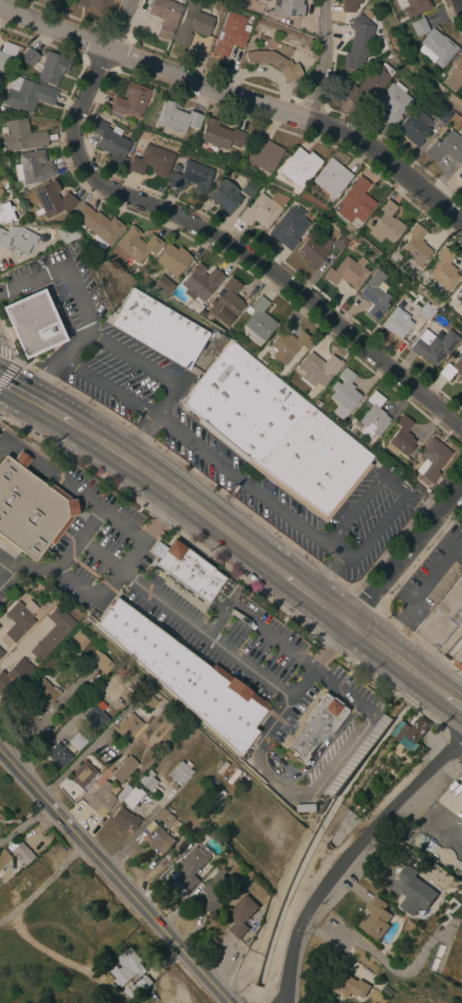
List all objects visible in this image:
building: (94, 4)
road: (459, 4)
building: (349, 5)
building: (412, 6)
building: (287, 8)
building: (165, 16)
road: (117, 24)
building: (192, 24)
building: (418, 26)
road: (323, 31)
building: (231, 34)
building: (359, 40)
building: (435, 48)
building: (6, 54)
building: (28, 57)
building: (274, 63)
building: (52, 68)
building: (454, 74)
building: (368, 86)
road: (314, 91)
building: (26, 94)
road: (241, 99)
building: (130, 100)
building: (392, 102)
building: (441, 113)
building: (176, 117)
building: (414, 127)
building: (219, 134)
building: (21, 136)
building: (192, 137)
building: (110, 141)
building: (446, 148)
building: (263, 155)
building: (151, 161)
building: (461, 166)
building: (297, 167)
building: (33, 168)
building: (176, 168)
building: (191, 177)
building: (331, 178)
building: (249, 188)
building: (224, 196)
building: (51, 200)
building: (354, 204)
building: (9, 210)
building: (262, 210)
building: (385, 224)
building: (97, 225)
building: (288, 227)
building: (69, 234)
building: (17, 240)
building: (351, 243)
building: (134, 246)
building: (415, 246)
road: (228, 247)
building: (318, 248)
building: (172, 259)
road: (62, 269)
building: (442, 270)
building: (347, 272)
parking lot: (62, 283)
building: (200, 283)
building: (163, 285)
road: (2, 291)
building: (375, 294)
building: (459, 299)
building: (226, 302)
building: (248, 310)
building: (426, 311)
building: (258, 321)
building: (396, 322)
building: (32, 323)
building: (159, 328)
road: (74, 343)
building: (287, 345)
building: (432, 345)
road: (8, 355)
road: (132, 356)
building: (317, 369)
building: (452, 369)
road: (8, 370)
road: (45, 378)
road: (107, 385)
road: (15, 389)
building: (344, 394)
road: (165, 398)
building: (317, 403)
road: (58, 414)
building: (373, 416)
parking lot: (0, 428)
building: (276, 431)
road: (139, 435)
building: (401, 438)
parking lot: (228, 450)
road: (28, 453)
building: (431, 459)
road: (248, 484)
road: (407, 495)
road: (186, 502)
road: (101, 507)
building: (30, 508)
road: (354, 510)
road: (161, 517)
road: (90, 524)
road: (436, 530)
road: (374, 532)
road: (452, 547)
road: (404, 553)
road: (131, 554)
road: (1, 559)
road: (5, 568)
road: (22, 568)
building: (186, 571)
road: (325, 575)
parking lot: (430, 579)
road: (75, 583)
road: (107, 583)
road: (425, 585)
building: (227, 586)
road: (400, 586)
road: (315, 599)
parking lot: (184, 610)
building: (93, 614)
building: (442, 615)
road: (215, 620)
building: (17, 621)
building: (55, 629)
road: (202, 632)
road: (389, 635)
road: (268, 637)
building: (78, 640)
building: (1, 653)
road: (394, 657)
building: (101, 662)
building: (459, 664)
building: (14, 675)
building: (185, 677)
building: (131, 686)
road: (341, 691)
building: (40, 697)
building: (147, 700)
road: (451, 701)
road: (275, 716)
building: (94, 717)
building: (127, 727)
building: (316, 727)
road: (64, 730)
building: (413, 734)
building: (76, 742)
road: (451, 749)
road: (85, 752)
road: (342, 754)
building: (57, 755)
parking lot: (341, 758)
road: (279, 763)
road: (307, 767)
building: (123, 769)
building: (179, 772)
building: (83, 773)
building: (133, 777)
road: (267, 777)
parking lot: (444, 779)
building: (147, 780)
building: (123, 793)
building: (461, 794)
building: (132, 797)
building: (101, 799)
road: (435, 807)
building: (308, 808)
building: (164, 816)
building: (124, 820)
building: (461, 823)
building: (160, 840)
building: (21, 854)
building: (4, 855)
building: (191, 867)
road: (338, 867)
road: (113, 877)
road: (43, 885)
building: (214, 891)
building: (417, 891)
building: (241, 915)
building: (378, 918)
road: (44, 950)
road: (379, 956)
building: (130, 964)
building: (351, 986)
building: (136, 987)
building: (389, 990)

